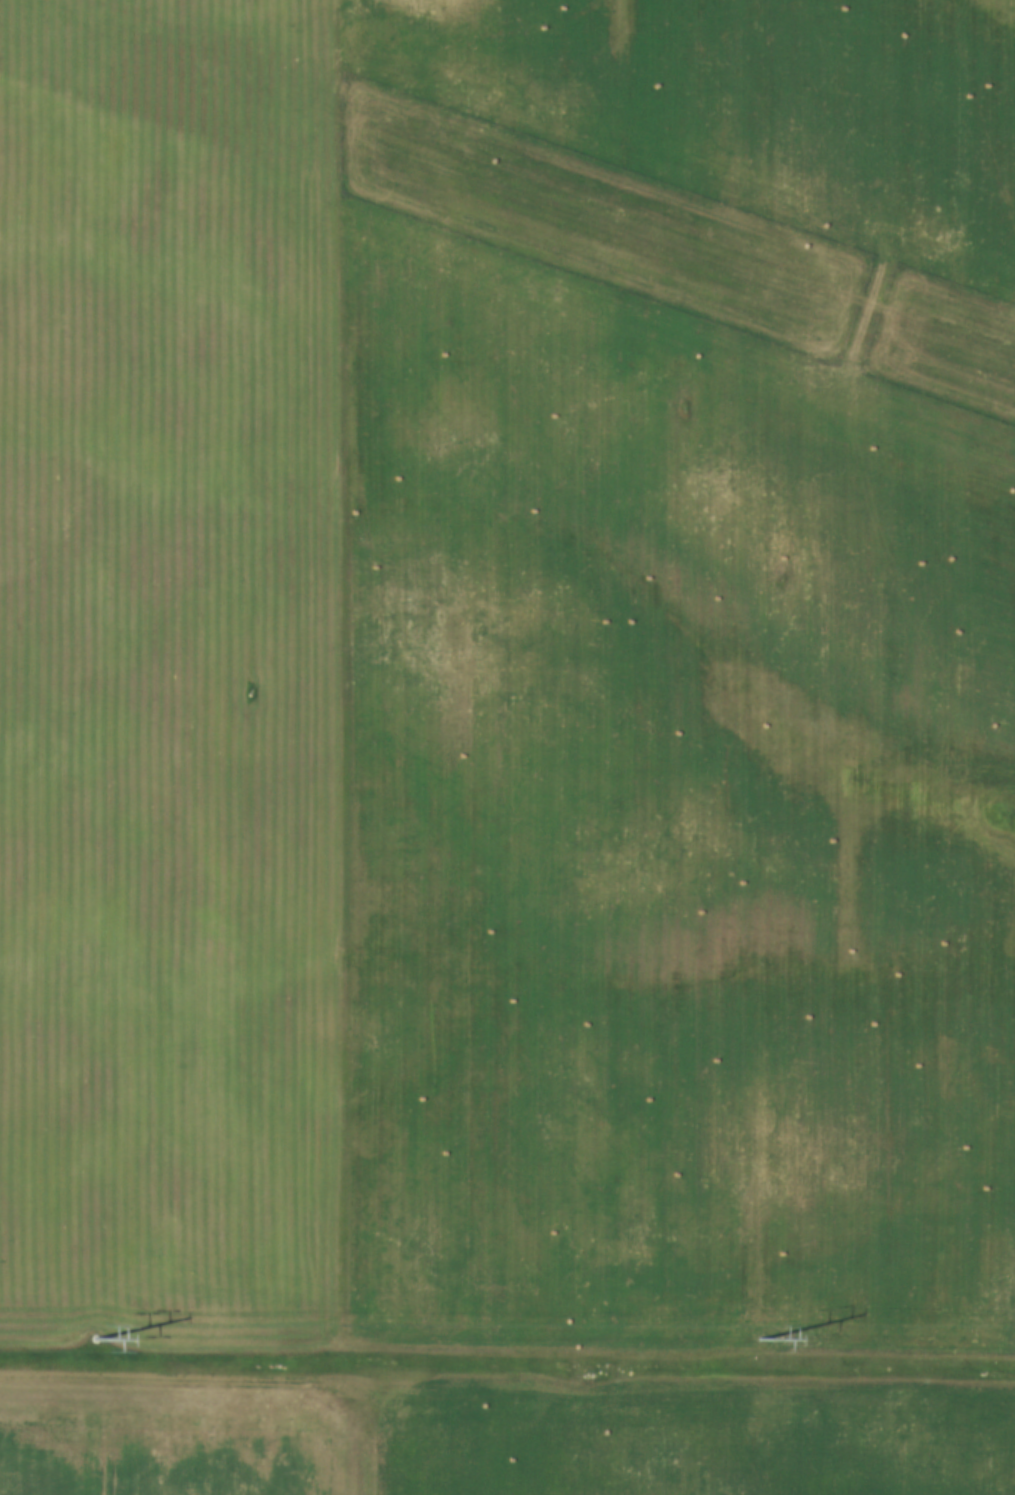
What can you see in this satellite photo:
power tower: (93, 1336)
power tower: (750, 1339)

